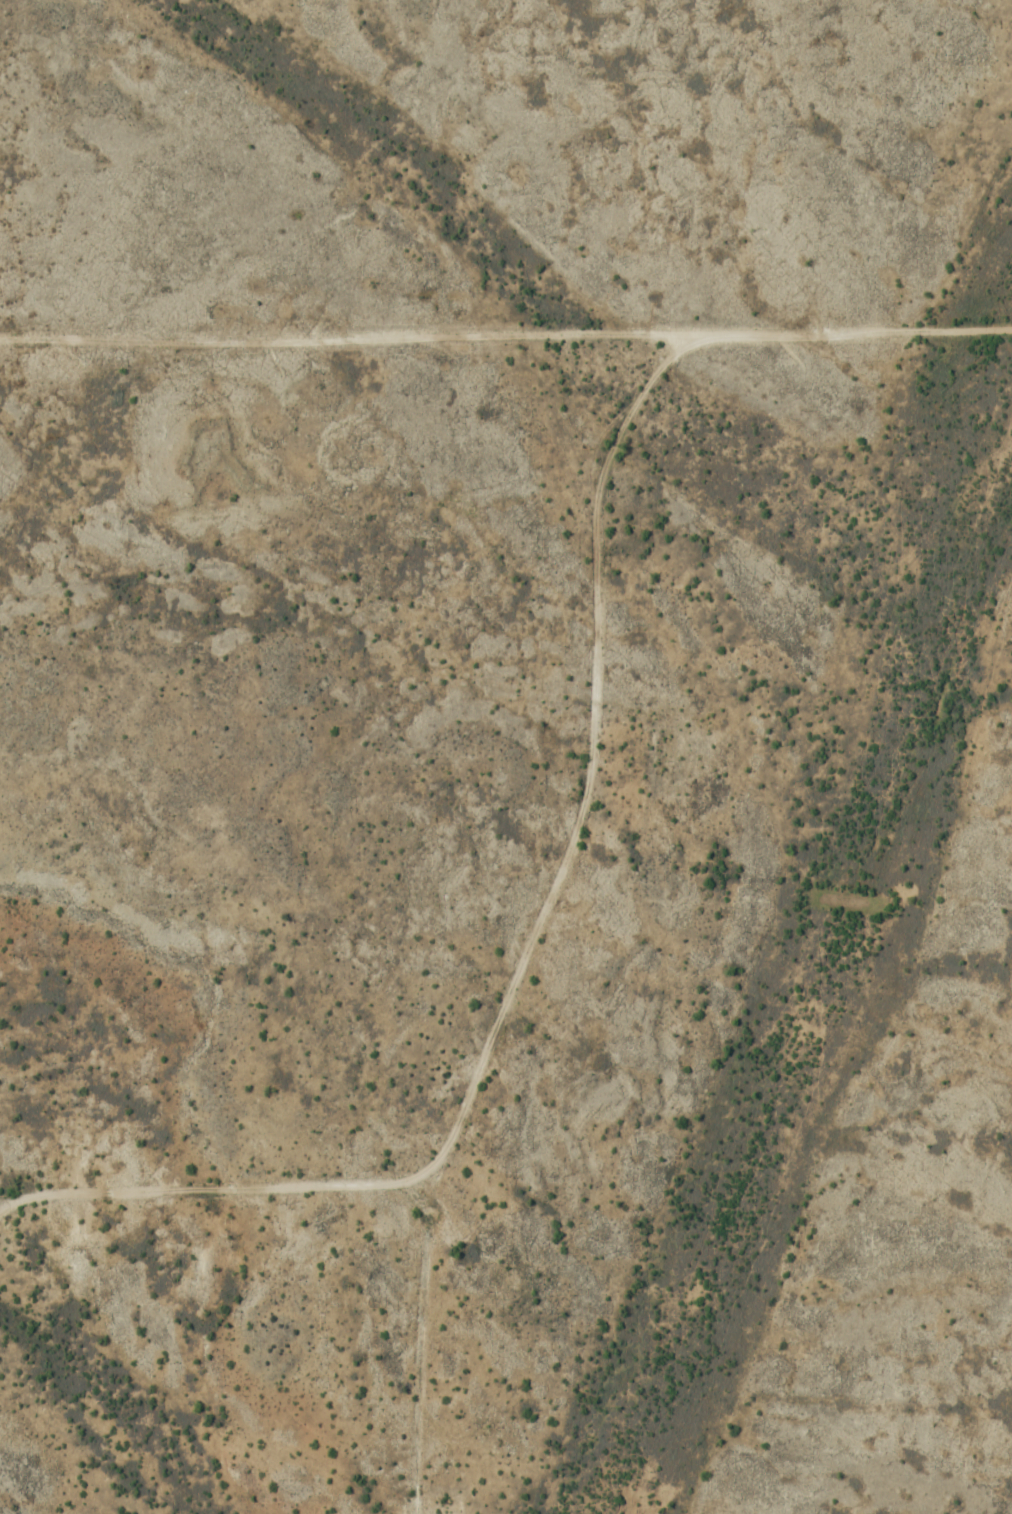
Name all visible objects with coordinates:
road: (506, 330)
road: (517, 975)
road: (111, 1191)
road: (1, 1202)

